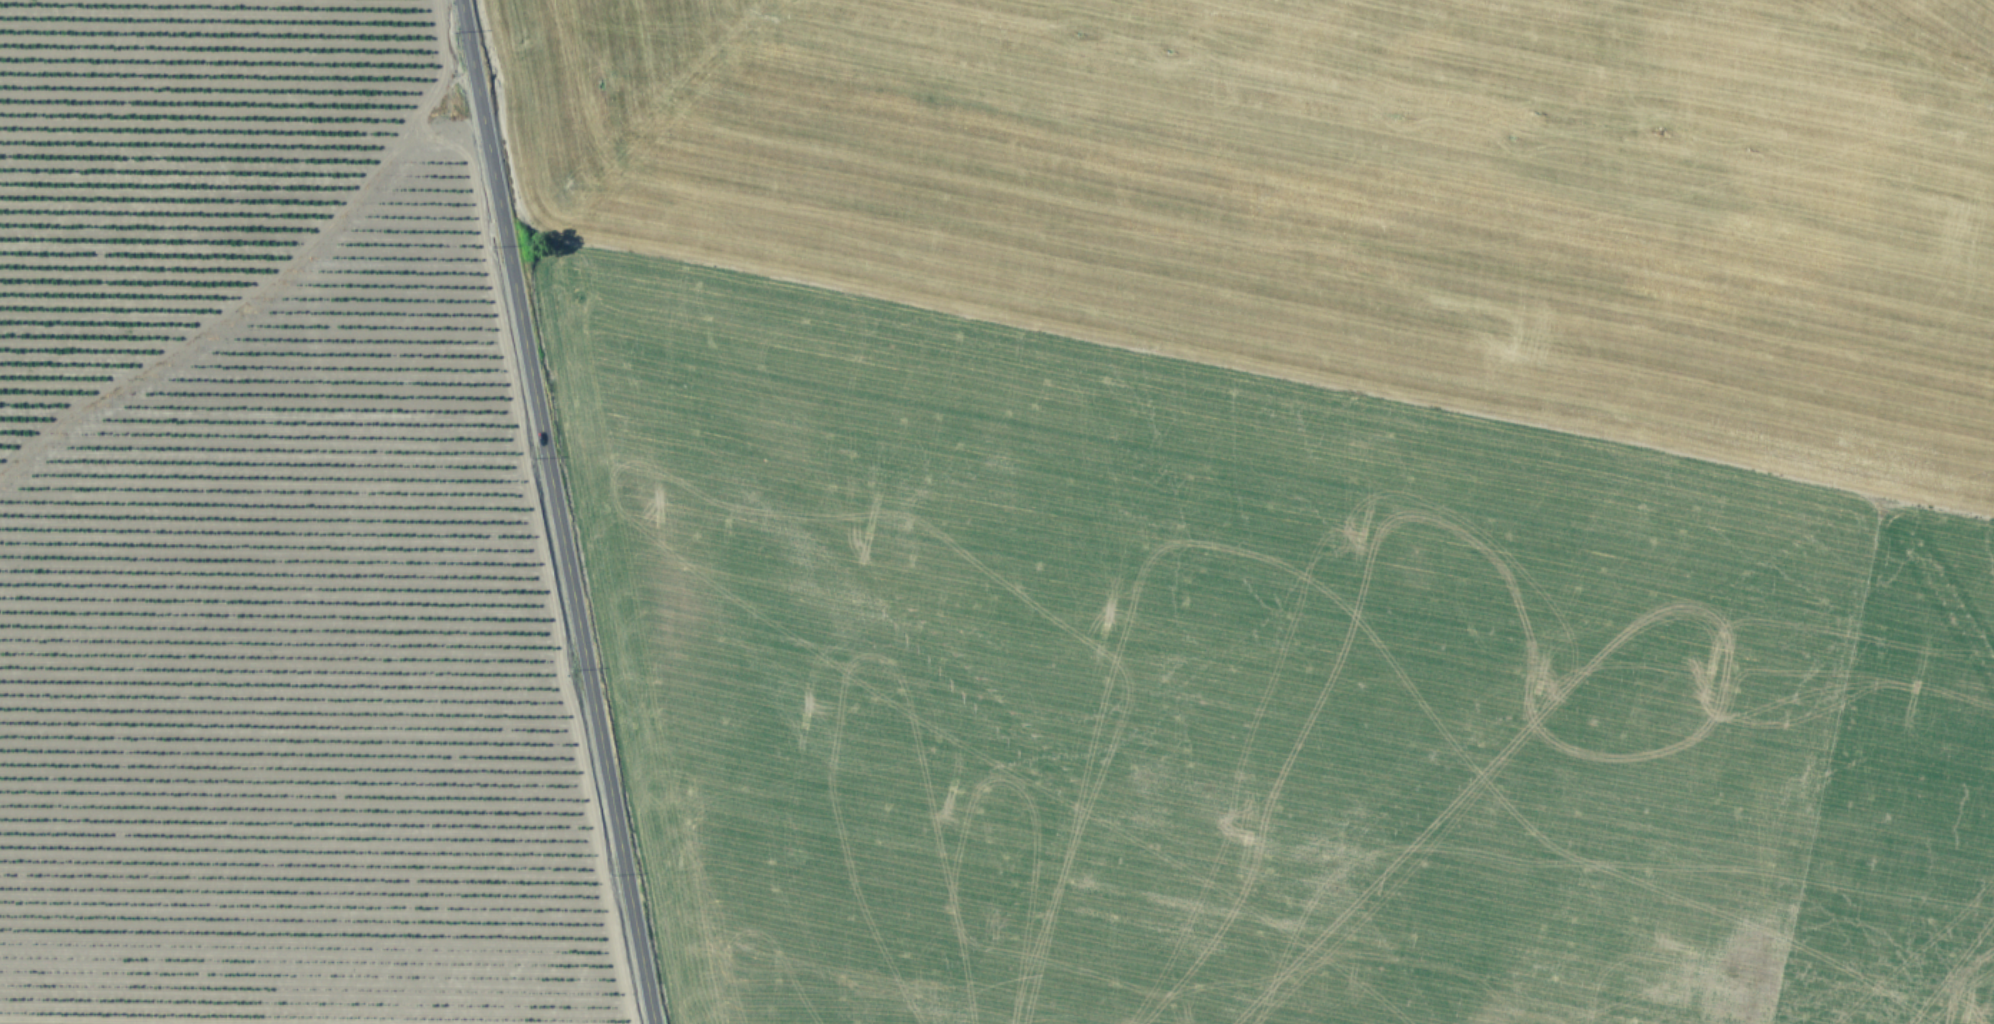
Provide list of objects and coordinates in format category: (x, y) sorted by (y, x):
road: (555, 511)
crop: (997, 512)

